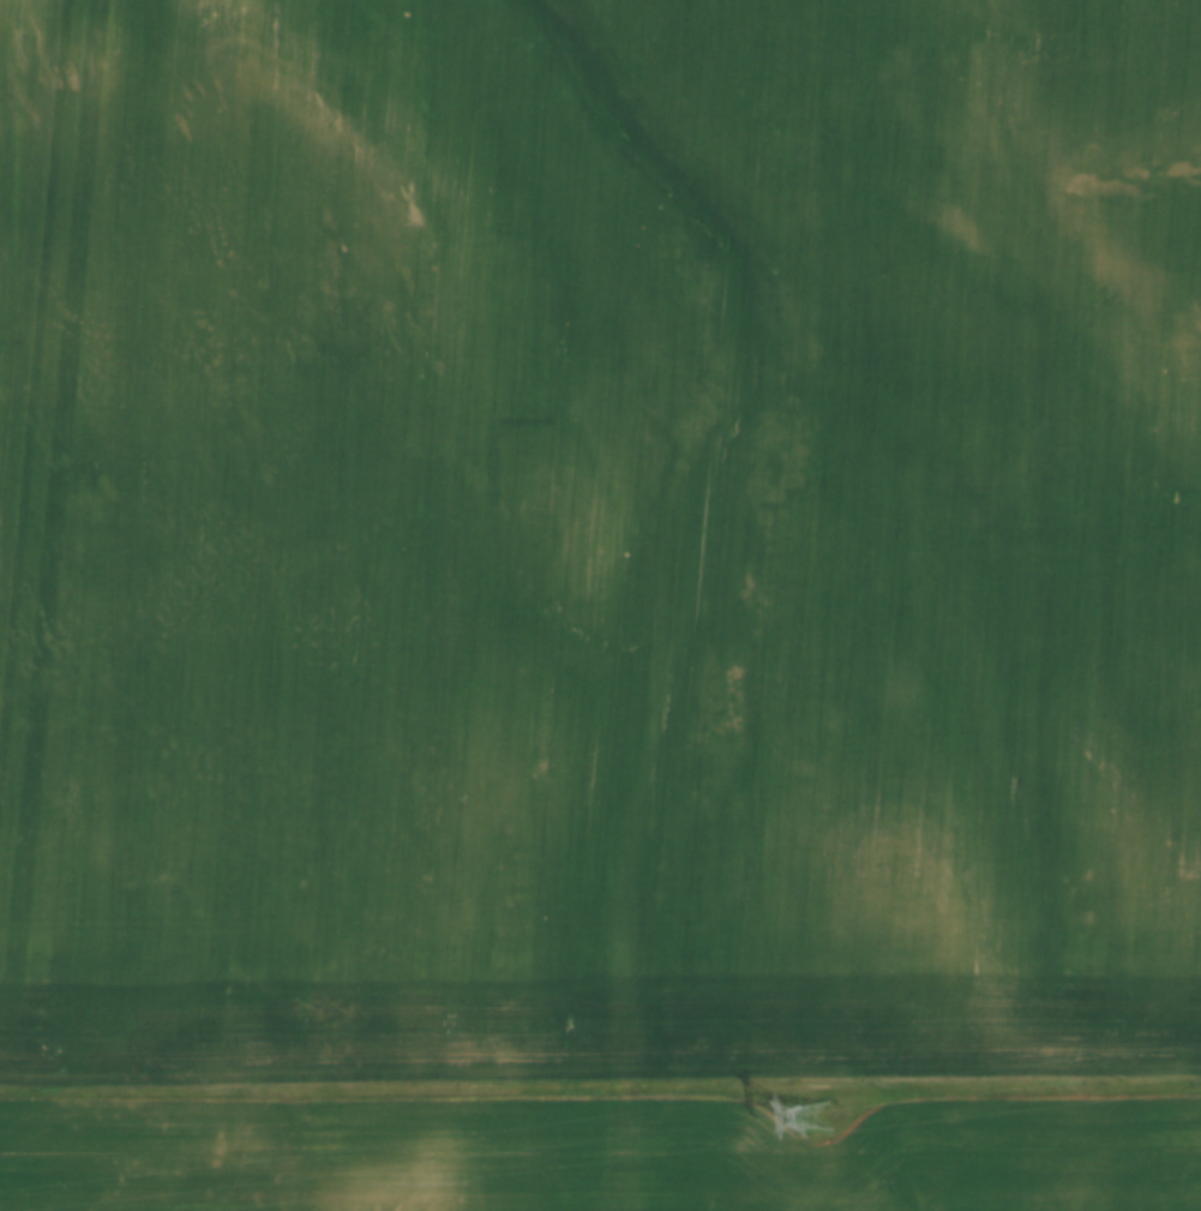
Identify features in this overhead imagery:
road: (600, 1090)
power tower: (812, 1123)

